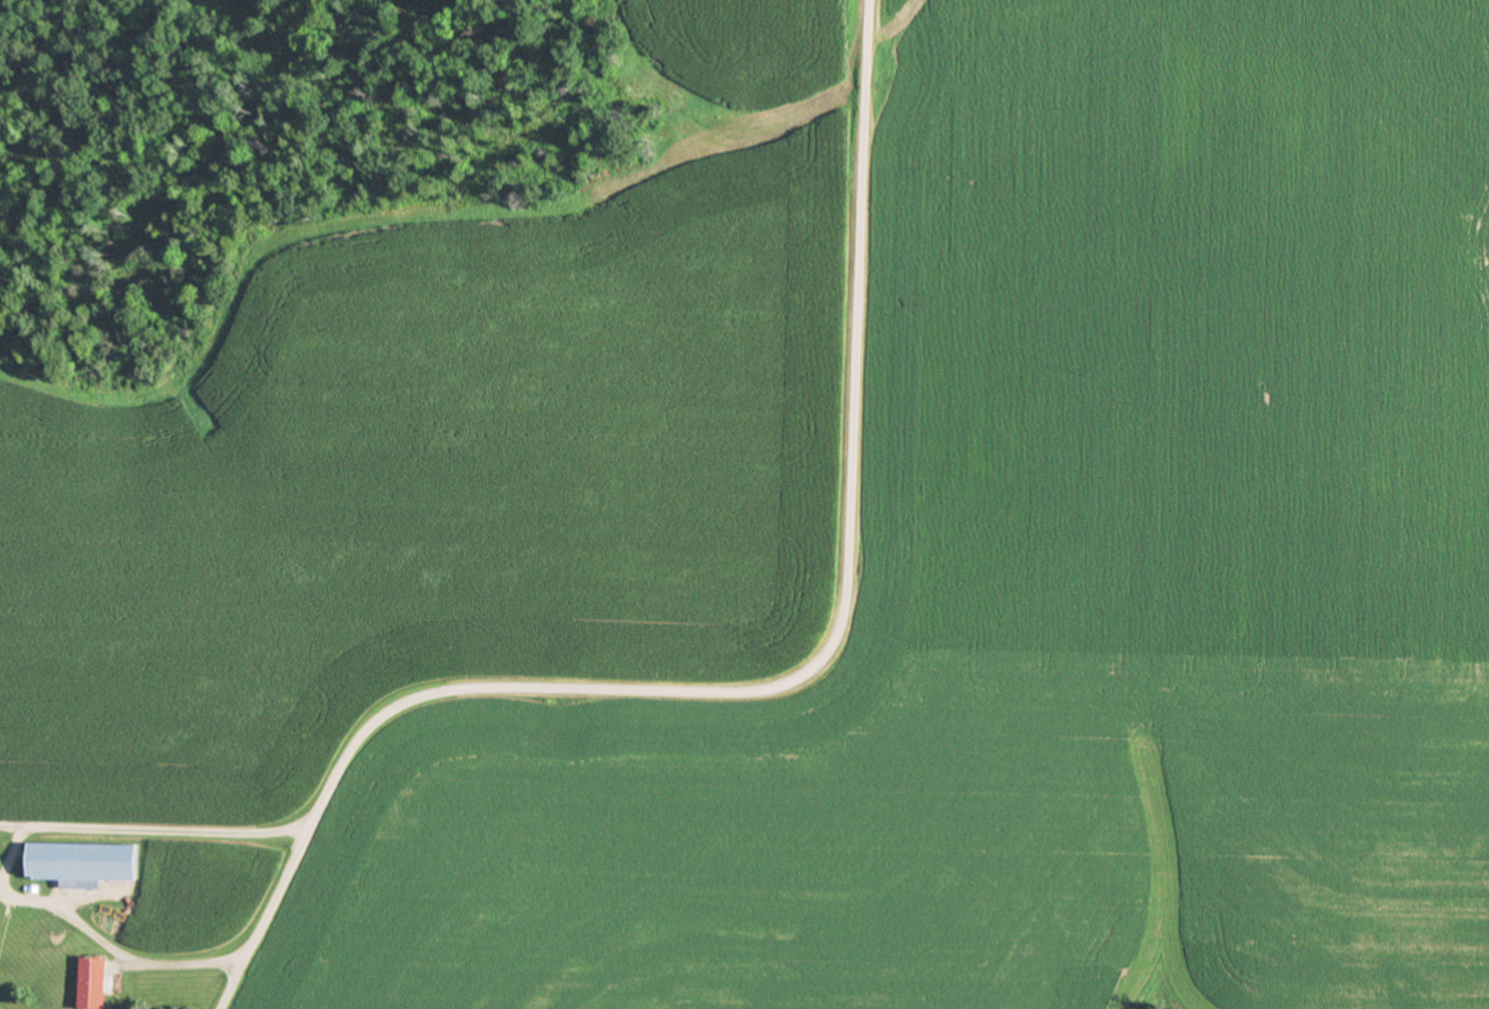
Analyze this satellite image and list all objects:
road: (774, 691)
road: (169, 833)
building: (82, 861)
building: (90, 981)

